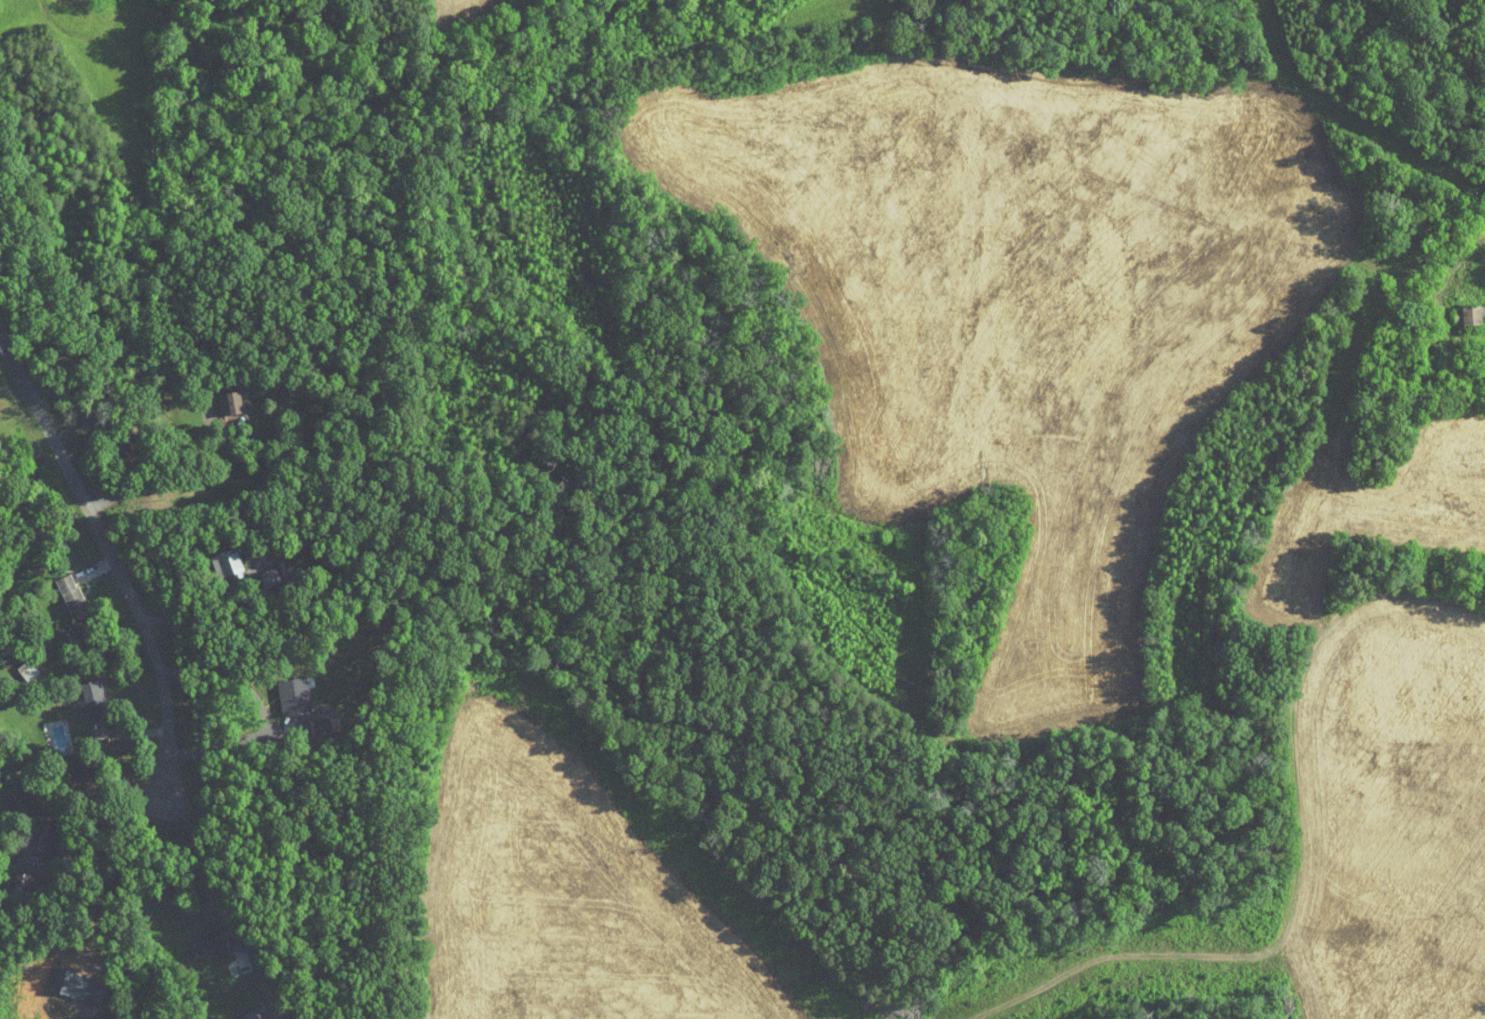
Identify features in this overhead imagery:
road: (1470, 263)
building: (1463, 307)
road: (2, 343)
building: (222, 396)
road: (161, 464)
building: (216, 556)
road: (96, 568)
building: (62, 590)
road: (187, 597)
road: (140, 620)
road: (126, 682)
building: (283, 689)
building: (83, 694)
road: (252, 699)
building: (307, 720)
road: (113, 796)
building: (198, 937)
building: (242, 1012)

